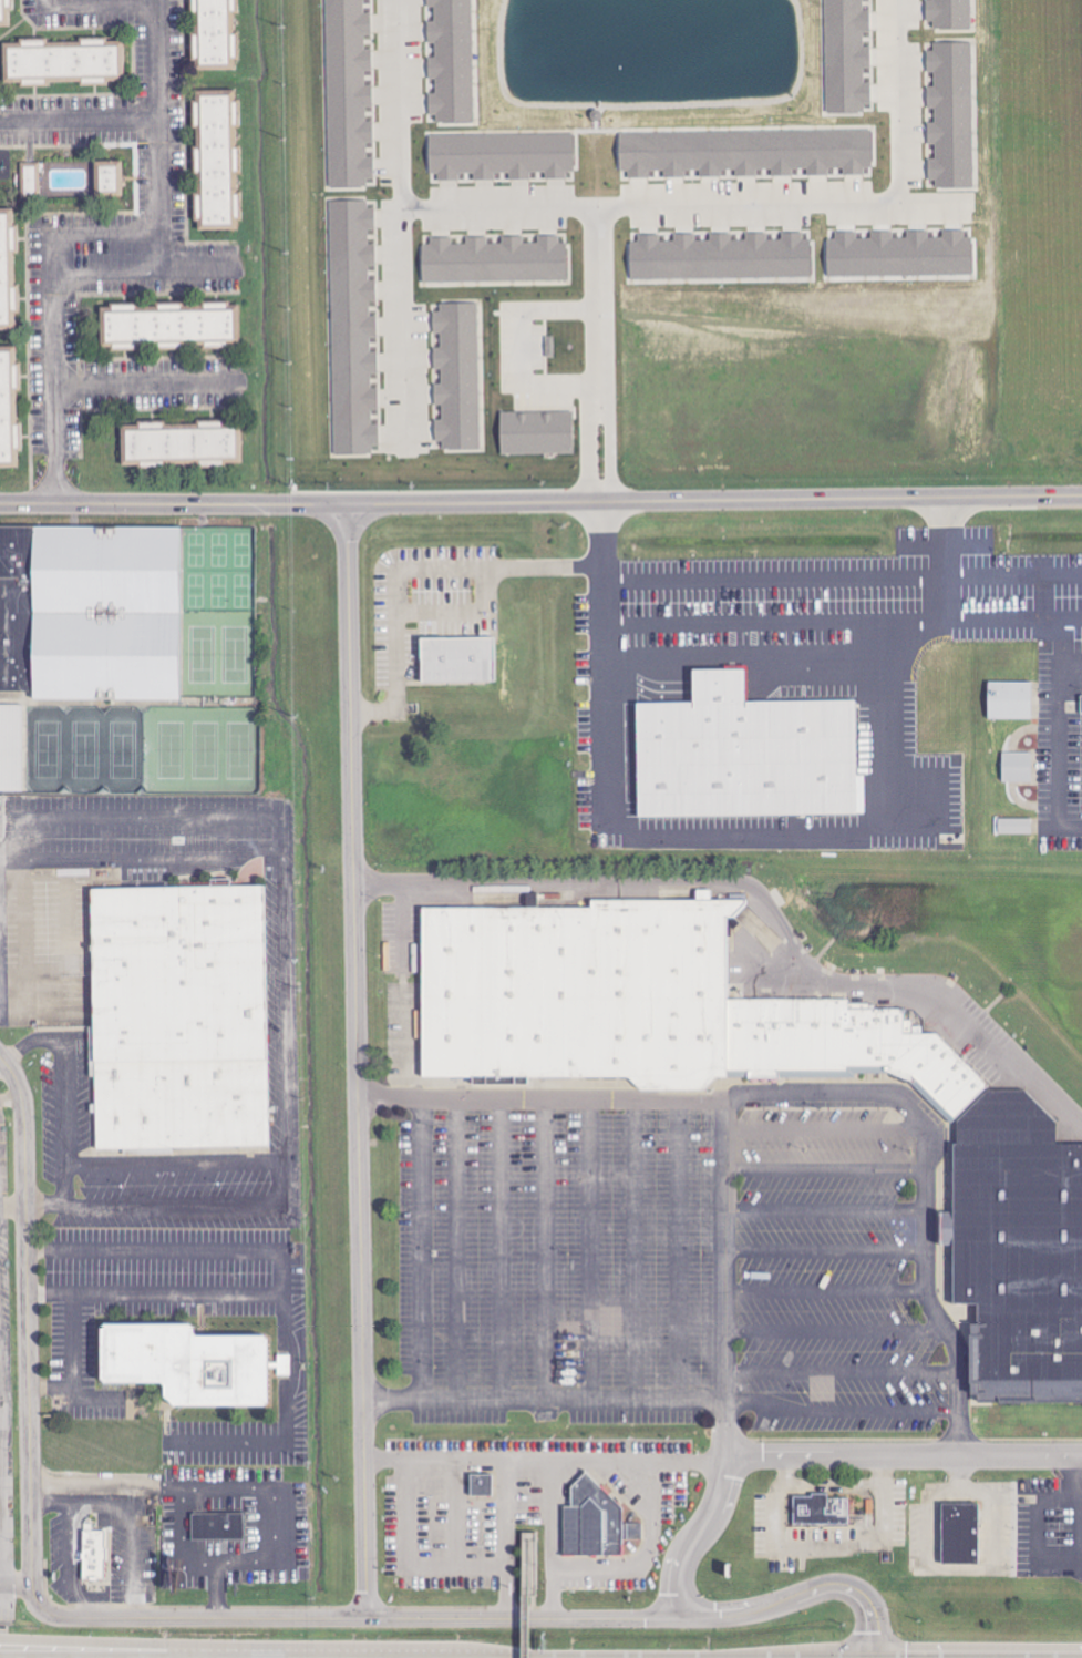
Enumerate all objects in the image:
building: (6, 11)
building: (949, 13)
building: (225, 35)
building: (847, 55)
building: (452, 61)
building: (63, 62)
road: (905, 99)
building: (951, 114)
road: (84, 115)
road: (167, 117)
building: (744, 152)
building: (501, 155)
building: (225, 166)
building: (107, 178)
building: (31, 180)
road: (760, 205)
road: (507, 207)
road: (403, 219)
road: (112, 235)
building: (899, 255)
building: (720, 257)
building: (494, 260)
building: (8, 269)
building: (353, 327)
building: (178, 335)
road: (598, 350)
road: (508, 354)
road: (58, 370)
building: (458, 376)
road: (155, 380)
building: (9, 407)
building: (536, 432)
building: (186, 452)
road: (540, 502)
road: (441, 569)
road: (977, 574)
road: (774, 577)
road: (460, 610)
building: (91, 612)
road: (1010, 622)
road: (775, 628)
building: (220, 656)
road: (750, 658)
building: (456, 661)
road: (1072, 664)
building: (1081, 697)
building: (1009, 700)
road: (1061, 734)
building: (11, 748)
building: (745, 755)
building: (1017, 767)
road: (118, 815)
building: (1014, 827)
road: (767, 847)
building: (532, 899)
road: (762, 900)
building: (176, 971)
road: (281, 982)
building: (638, 1001)
road: (358, 1062)
road: (65, 1086)
road: (814, 1099)
building: (178, 1102)
building: (1006, 1118)
road: (823, 1176)
road: (182, 1202)
road: (823, 1212)
road: (13, 1214)
road: (176, 1248)
road: (824, 1251)
road: (723, 1253)
building: (1021, 1259)
road: (825, 1298)
road: (281, 1321)
road: (28, 1323)
road: (835, 1335)
road: (70, 1338)
building: (188, 1363)
building: (284, 1364)
road: (842, 1379)
road: (568, 1406)
road: (843, 1413)
road: (2, 1446)
road: (904, 1455)
road: (545, 1460)
road: (246, 1484)
building: (481, 1484)
road: (1079, 1498)
road: (93, 1501)
road: (52, 1504)
road: (1038, 1509)
building: (821, 1511)
building: (597, 1518)
building: (217, 1525)
building: (961, 1534)
road: (698, 1535)
road: (506, 1538)
road: (179, 1539)
road: (554, 1539)
building: (94, 1554)
road: (408, 1560)
building: (529, 1564)
road: (529, 1573)
road: (522, 1596)
road: (17, 1597)
parking lot: (4, 1603)
road: (869, 1608)
road: (429, 1619)
road: (116, 1645)

